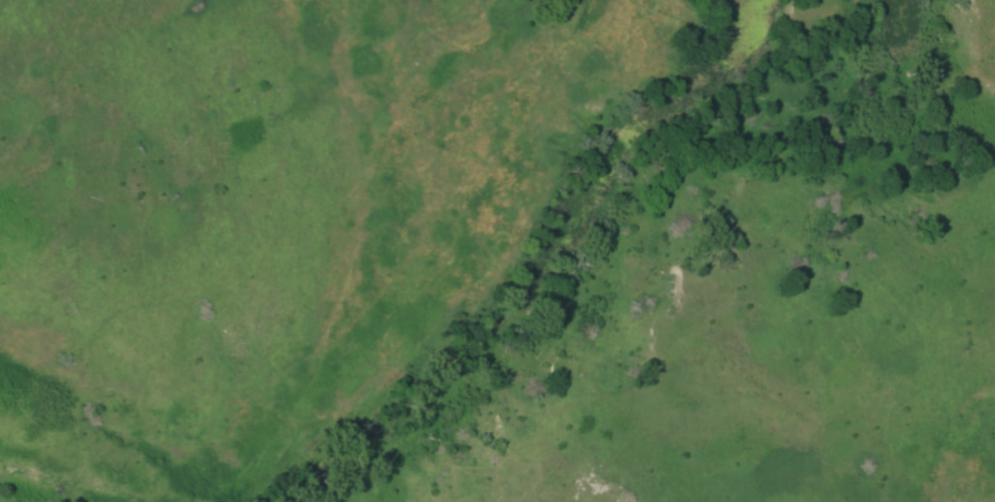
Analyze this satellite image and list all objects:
park: (497, 251)

